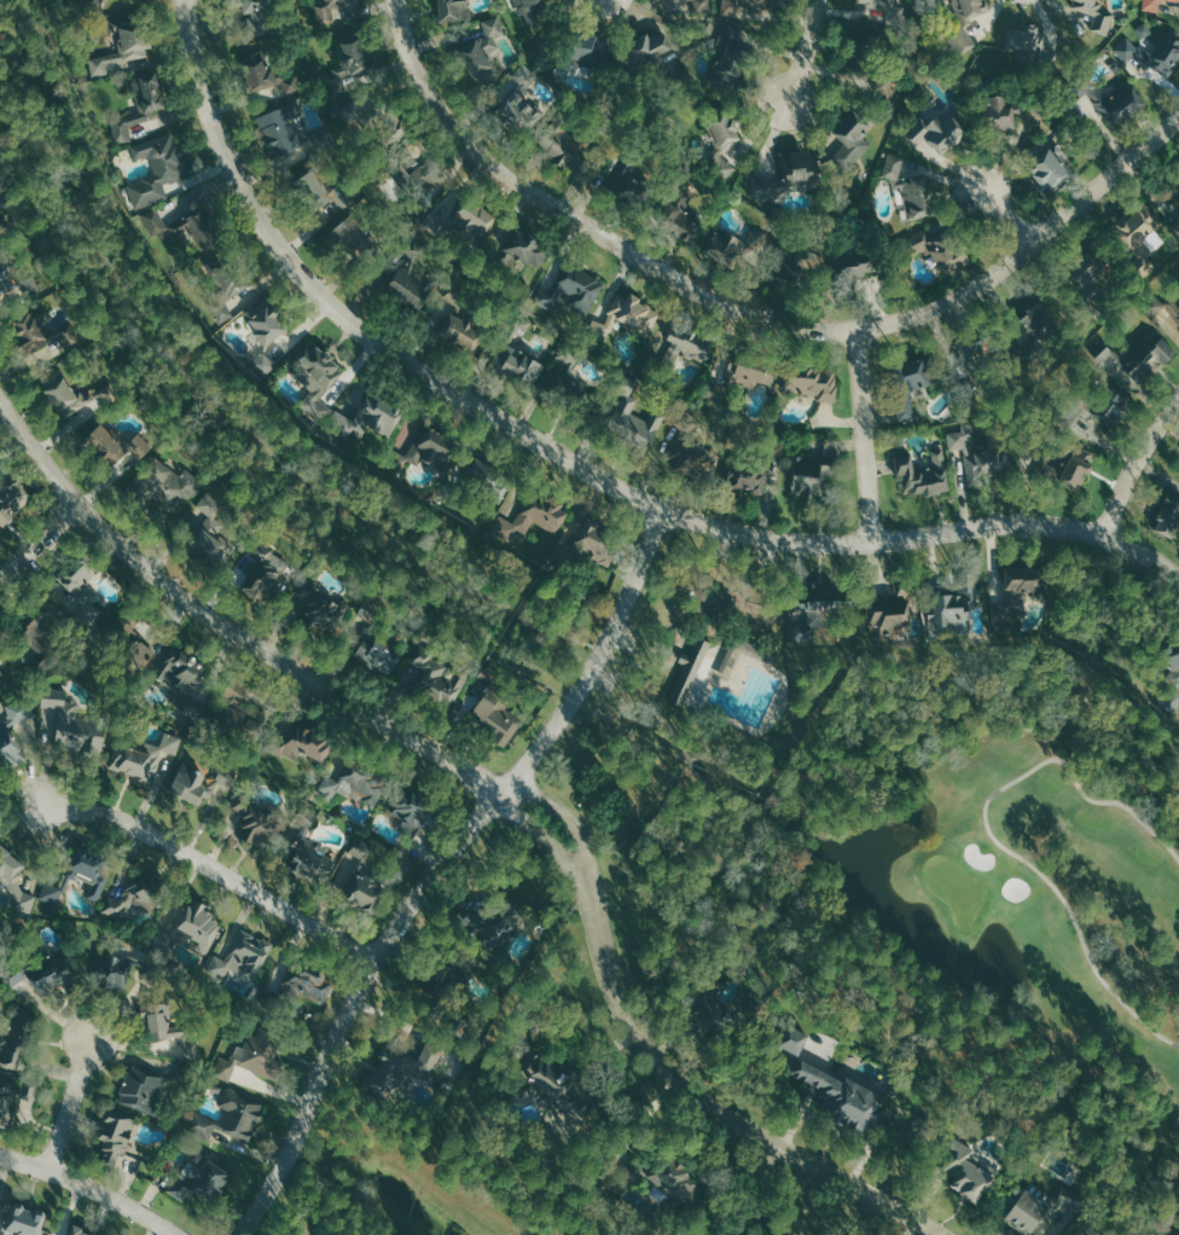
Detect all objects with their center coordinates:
building: (106, 0)
building: (876, 0)
building: (1175, 0)
building: (92, 4)
building: (527, 4)
building: (1152, 5)
building: (691, 6)
building: (744, 8)
building: (452, 10)
building: (324, 12)
building: (1096, 15)
building: (257, 16)
building: (966, 23)
building: (1027, 41)
building: (124, 48)
building: (588, 50)
building: (647, 50)
road: (806, 50)
building: (483, 52)
building: (1152, 54)
building: (352, 64)
building: (268, 75)
building: (1084, 85)
building: (512, 95)
building: (1121, 102)
building: (140, 103)
building: (1000, 114)
building: (280, 131)
building: (937, 132)
building: (852, 141)
building: (722, 145)
building: (562, 146)
building: (158, 168)
building: (413, 168)
building: (800, 170)
building: (1049, 170)
building: (631, 185)
building: (911, 186)
building: (323, 190)
building: (1, 202)
building: (1169, 202)
building: (680, 214)
road: (1009, 215)
building: (474, 216)
building: (2, 221)
building: (1137, 227)
building: (182, 228)
building: (350, 232)
building: (523, 247)
building: (726, 247)
building: (936, 248)
building: (802, 262)
building: (855, 265)
building: (1087, 272)
building: (4, 278)
building: (413, 286)
building: (228, 288)
building: (575, 290)
building: (1162, 306)
building: (623, 318)
building: (1042, 318)
road: (751, 319)
building: (29, 331)
building: (460, 331)
building: (265, 335)
building: (70, 337)
building: (685, 348)
building: (518, 355)
building: (1140, 363)
building: (750, 371)
building: (565, 377)
building: (911, 379)
building: (318, 381)
building: (813, 382)
building: (60, 393)
building: (1113, 405)
building: (633, 414)
building: (378, 417)
building: (342, 423)
road: (864, 434)
building: (111, 443)
building: (424, 450)
building: (777, 450)
building: (978, 456)
building: (695, 459)
road: (574, 462)
building: (1070, 465)
road: (1136, 465)
building: (812, 474)
building: (923, 475)
building: (747, 479)
building: (488, 481)
building: (159, 485)
building: (11, 497)
building: (1169, 517)
building: (532, 518)
building: (209, 540)
road: (39, 541)
building: (594, 541)
building: (263, 569)
building: (77, 574)
building: (1022, 581)
building: (85, 597)
building: (825, 599)
road: (704, 604)
building: (946, 607)
building: (324, 609)
building: (887, 614)
road: (518, 616)
road: (1104, 622)
road: (225, 625)
building: (128, 633)
park: (710, 651)
building: (376, 653)
building: (1166, 660)
building: (0, 662)
road: (673, 662)
building: (698, 674)
building: (184, 678)
building: (440, 683)
building: (18, 711)
building: (236, 711)
building: (494, 714)
building: (71, 726)
building: (301, 743)
building: (8, 750)
building: (146, 758)
building: (362, 781)
building: (197, 784)
building: (418, 810)
road: (571, 822)
building: (259, 825)
road: (991, 836)
road: (547, 840)
building: (310, 847)
road: (211, 868)
road: (442, 869)
building: (361, 880)
building: (14, 882)
building: (98, 882)
park: (991, 882)
park: (954, 887)
building: (130, 908)
building: (489, 921)
building: (192, 927)
building: (242, 957)
building: (115, 973)
building: (42, 975)
building: (309, 985)
building: (707, 1013)
building: (162, 1021)
building: (16, 1039)
building: (794, 1040)
building: (411, 1062)
building: (252, 1063)
building: (548, 1082)
building: (145, 1091)
building: (843, 1101)
road: (70, 1104)
road: (716, 1107)
building: (230, 1119)
building: (115, 1136)
building: (969, 1170)
building: (662, 1179)
building: (199, 1181)
road: (89, 1188)
building: (1032, 1210)
building: (21, 1220)
building: (75, 1233)
building: (744, 1233)

